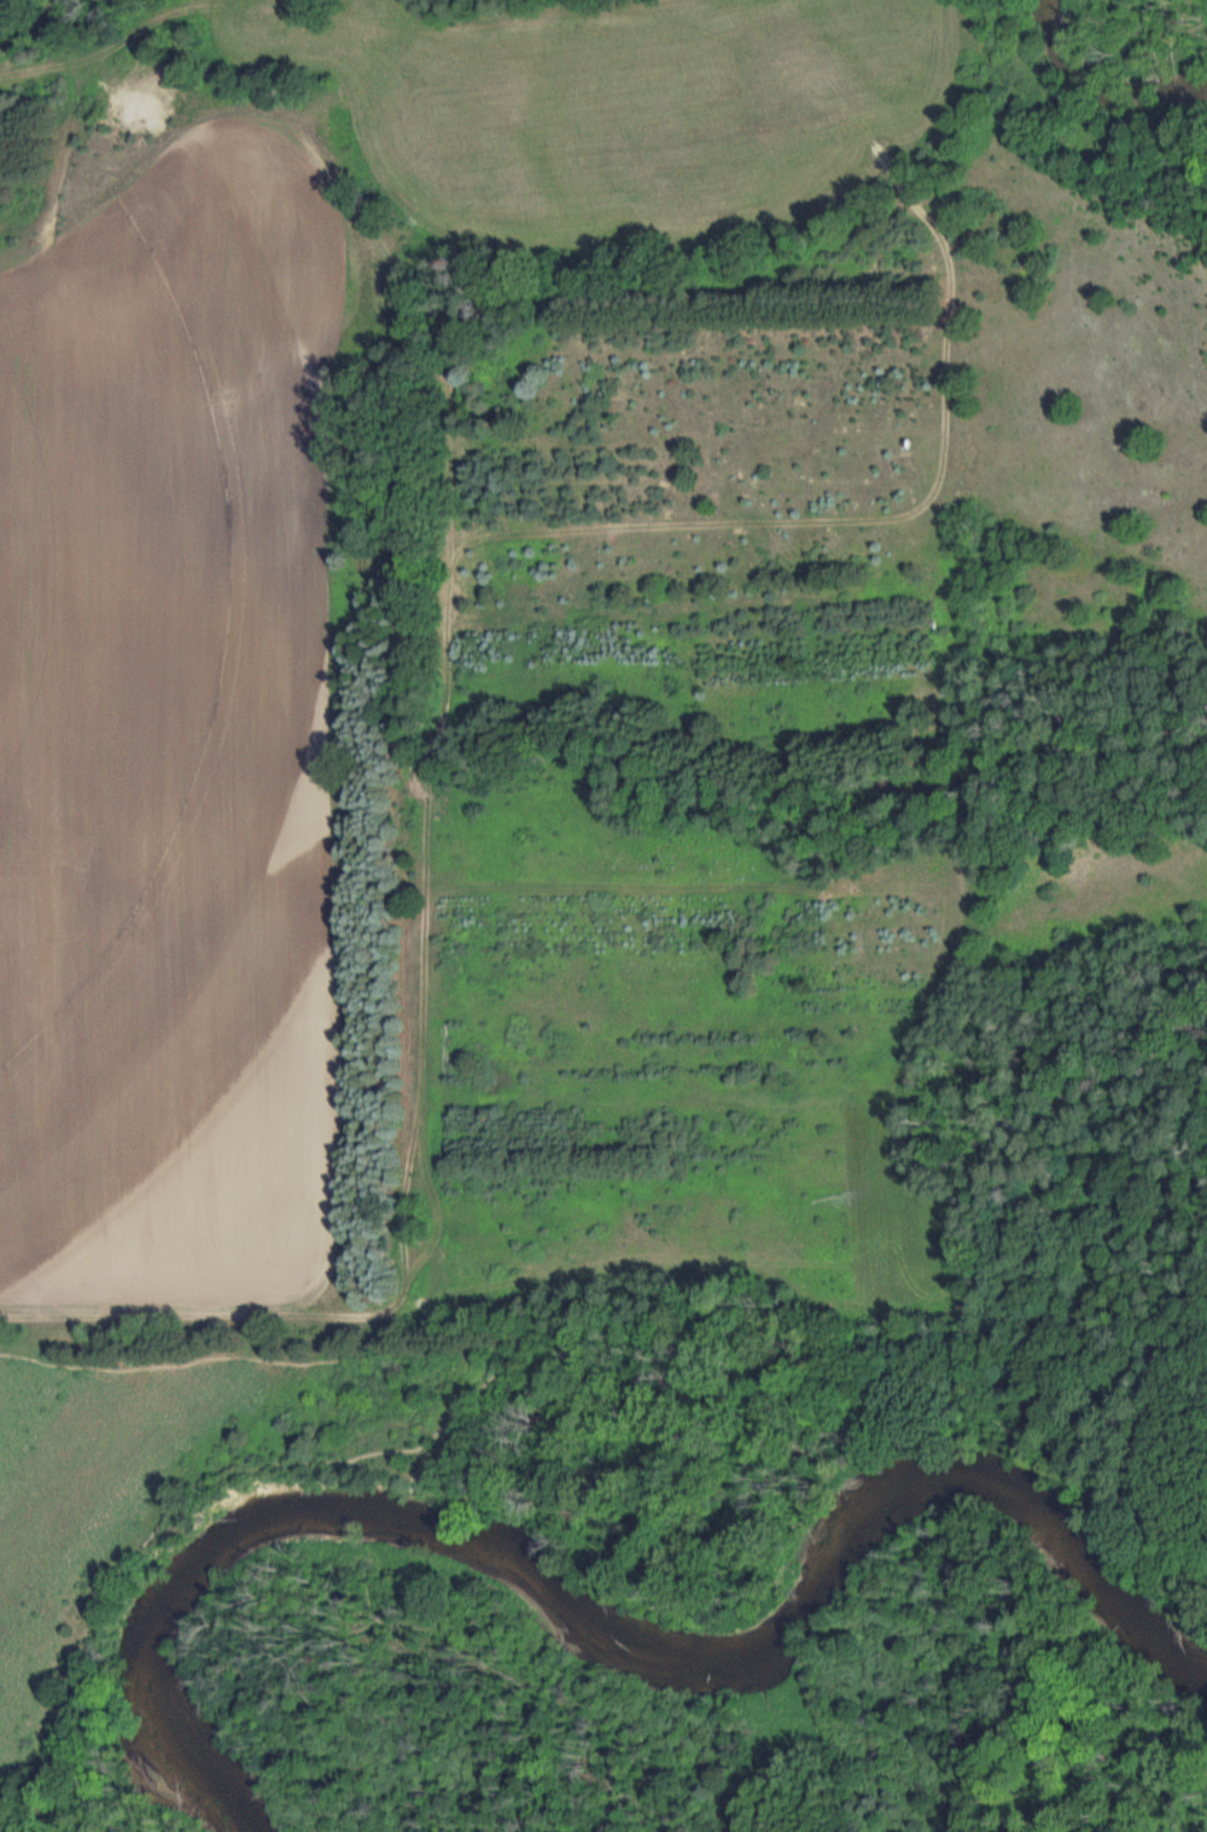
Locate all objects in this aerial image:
road: (371, 1326)
road: (126, 1366)
road: (1056, 1424)
park: (671, 1425)
road: (415, 1464)
river: (590, 1610)

